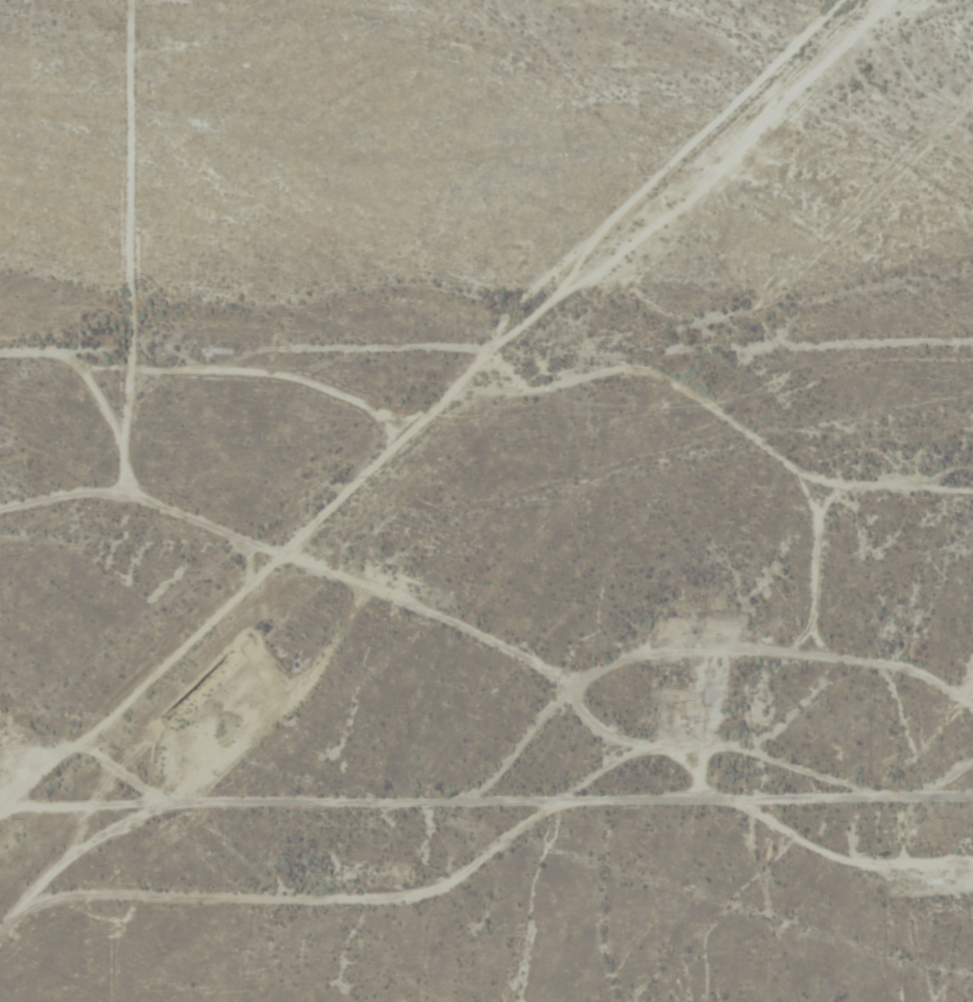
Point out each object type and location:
crop: (485, 178)
road: (486, 385)
road: (427, 419)

